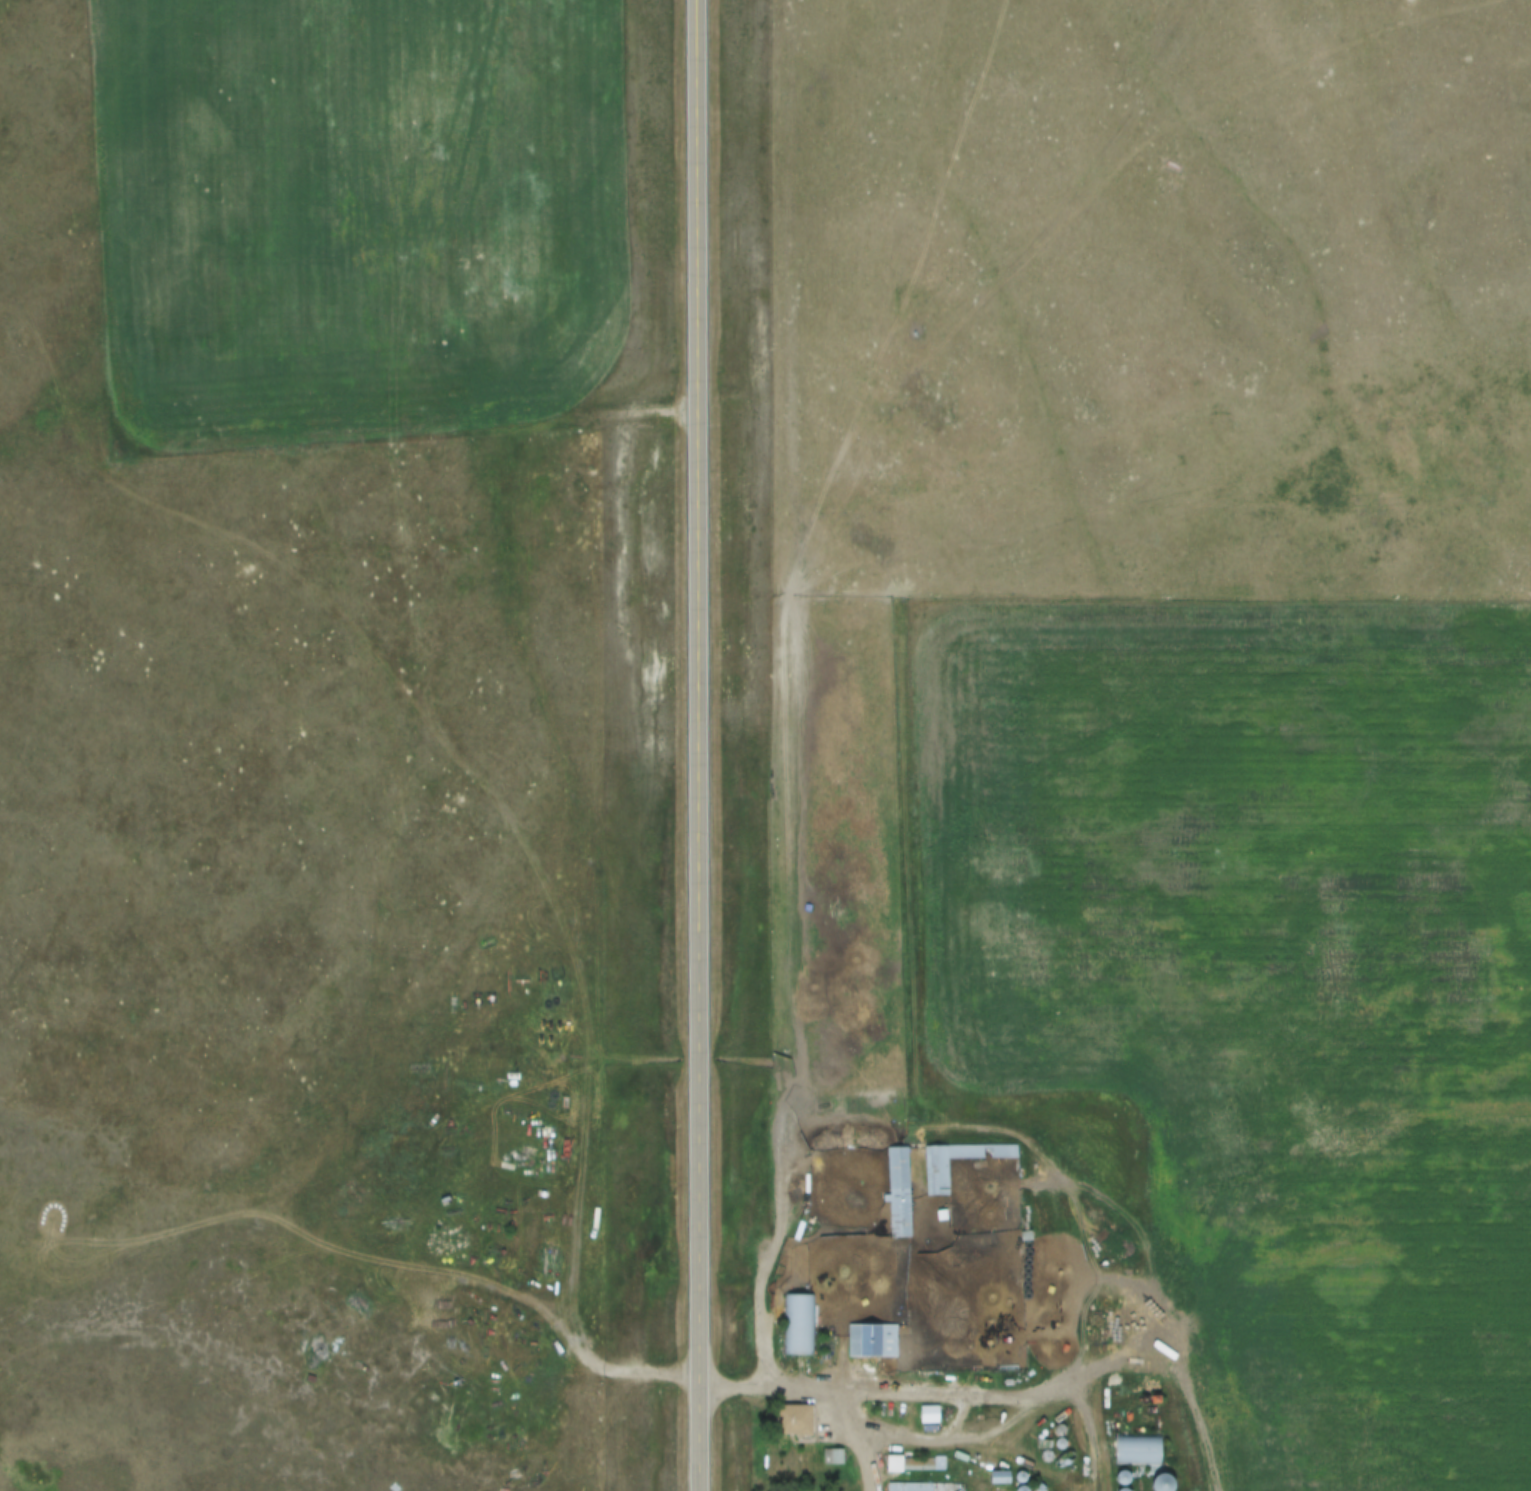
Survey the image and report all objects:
road: (700, 745)
road: (1016, 1128)
building: (937, 1178)
building: (899, 1193)
road: (405, 1276)
building: (799, 1324)
building: (872, 1341)
building: (928, 1416)
building: (792, 1420)
building: (1137, 1450)
building: (833, 1457)
building: (915, 1465)
building: (998, 1478)
building: (1121, 1479)
building: (1161, 1484)
building: (925, 1487)

